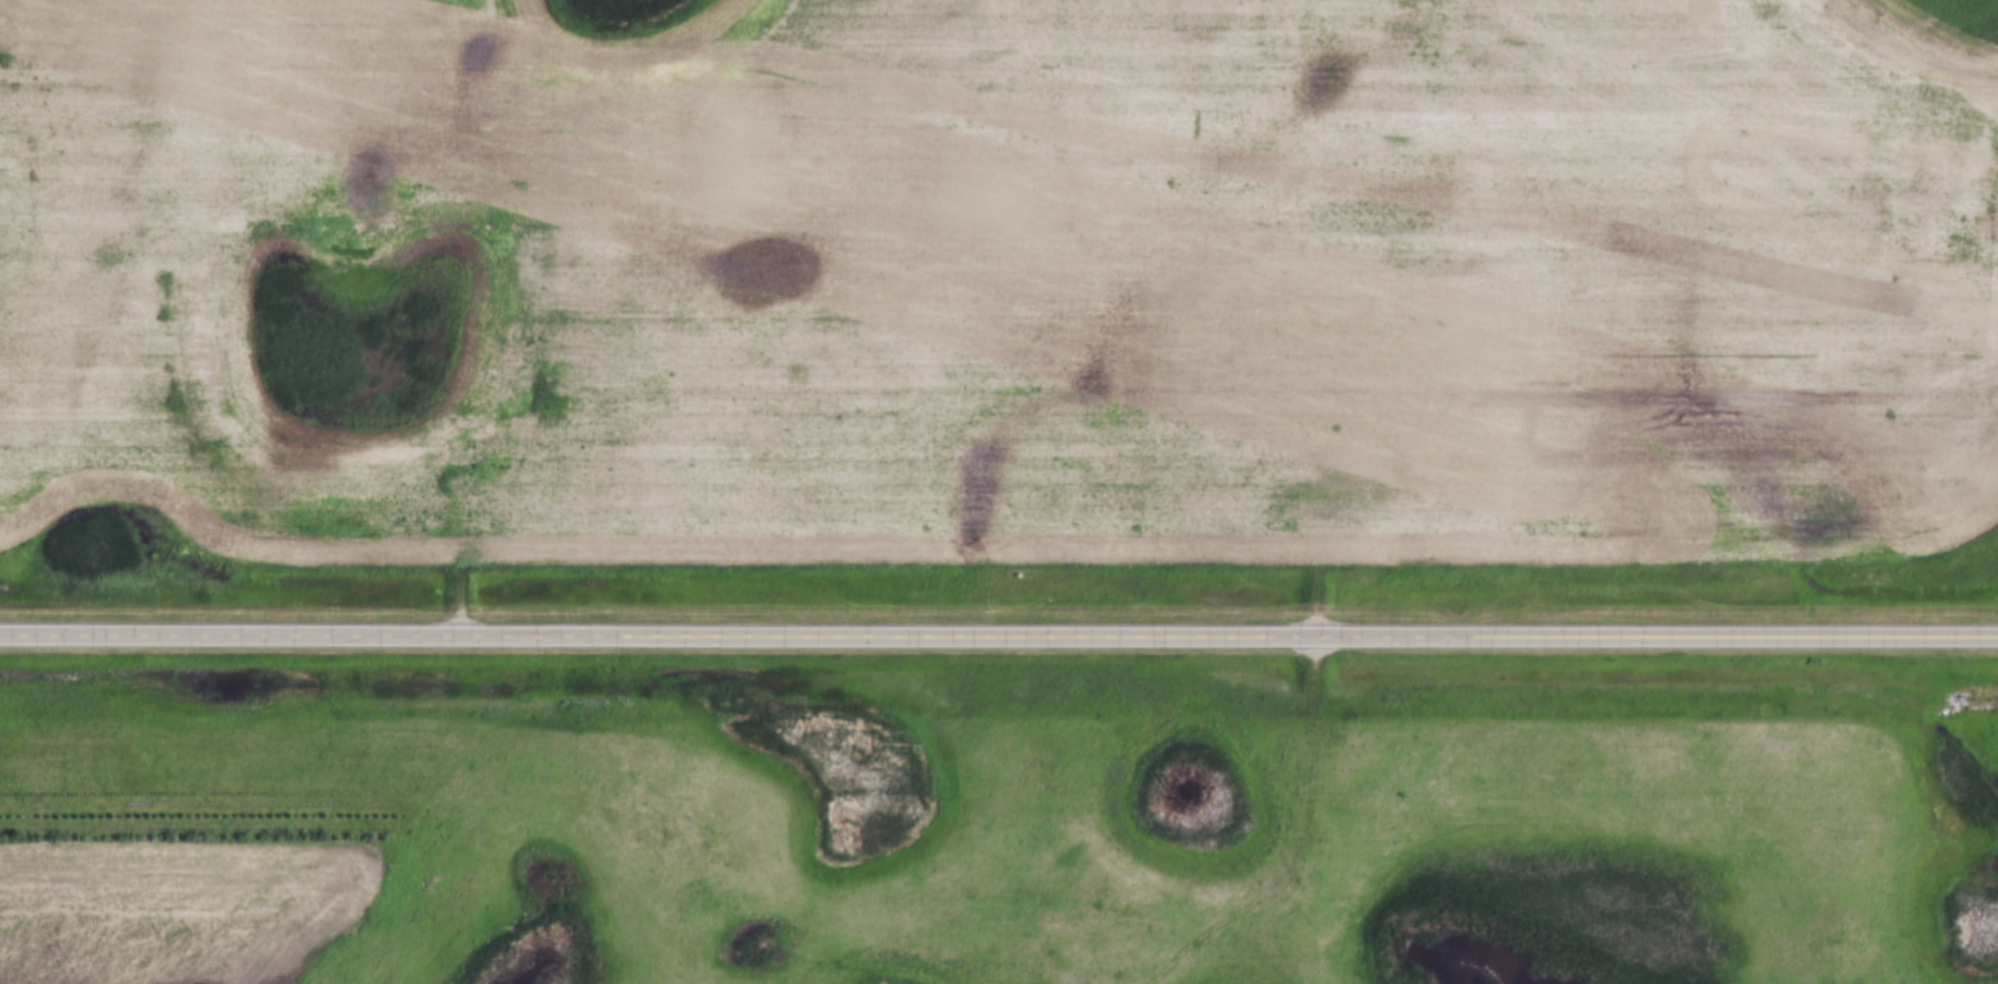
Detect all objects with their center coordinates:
road: (998, 633)

